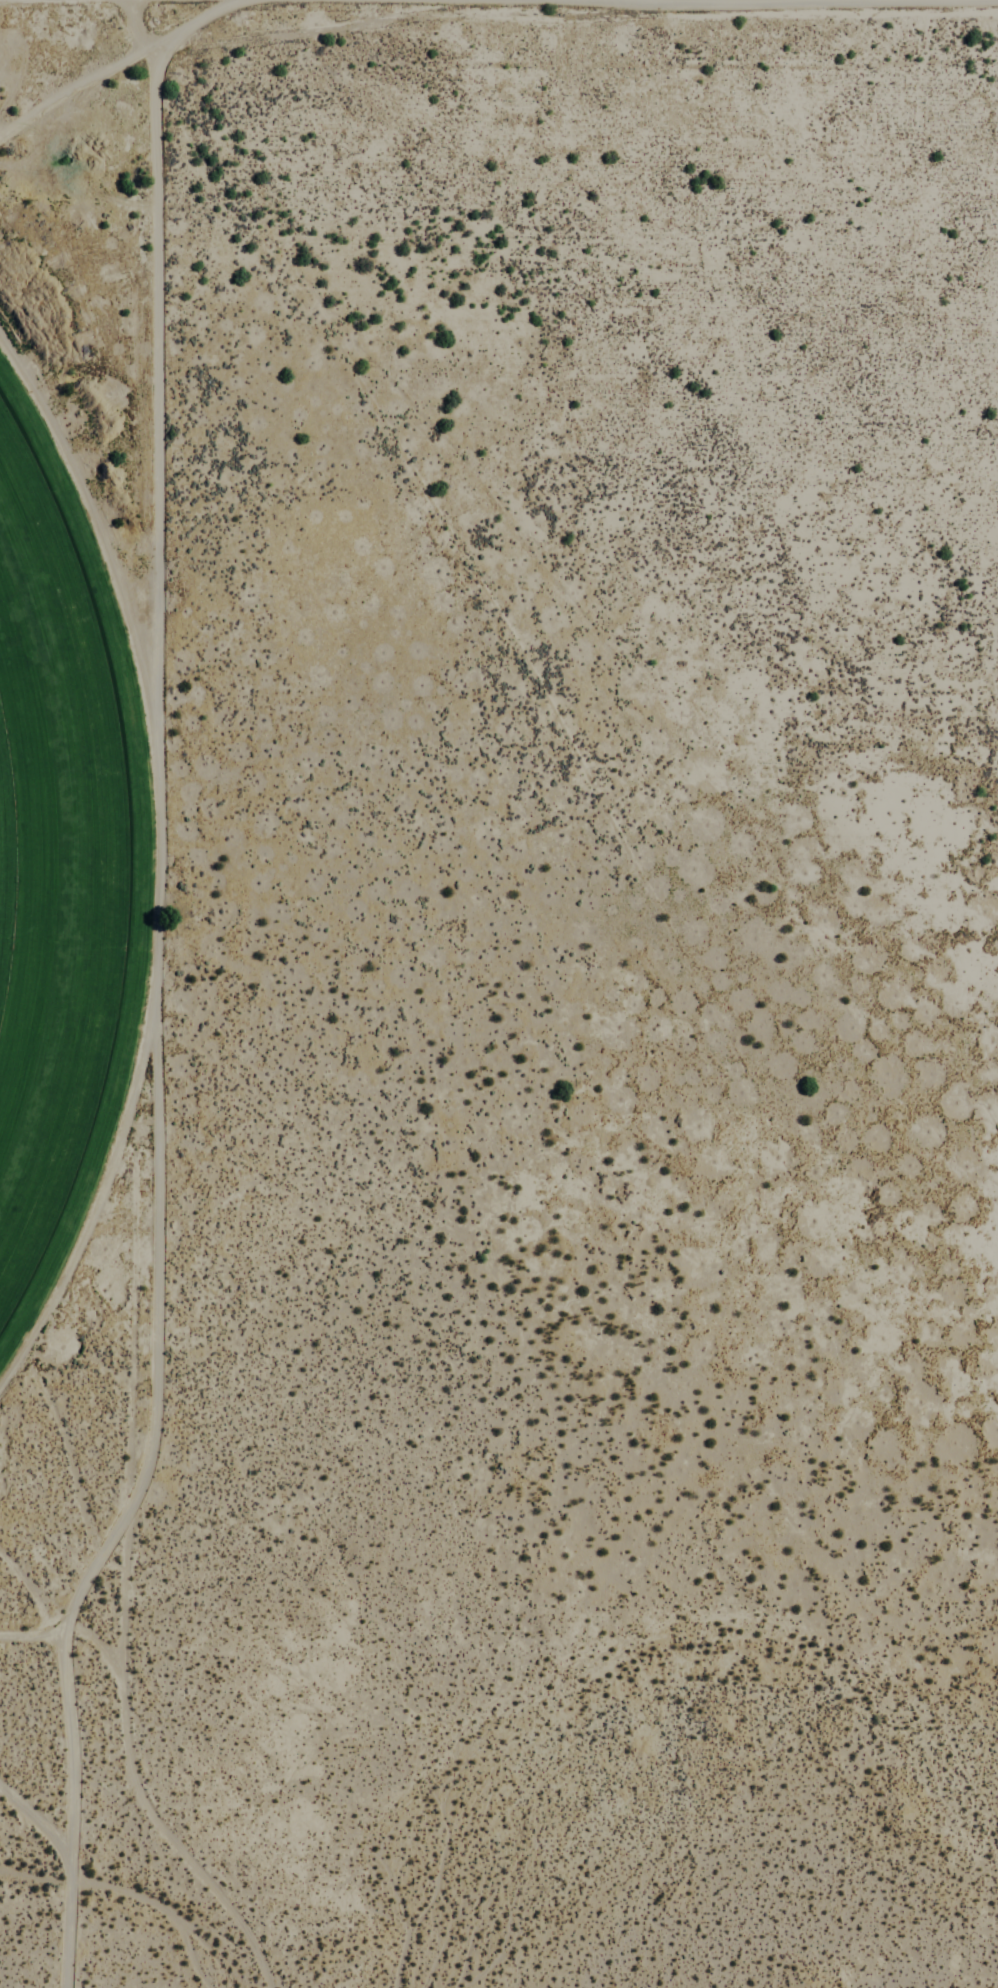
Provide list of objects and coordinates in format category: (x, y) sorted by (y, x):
road: (158, 832)
crop: (54, 863)
road: (156, 1806)
road: (65, 1819)

